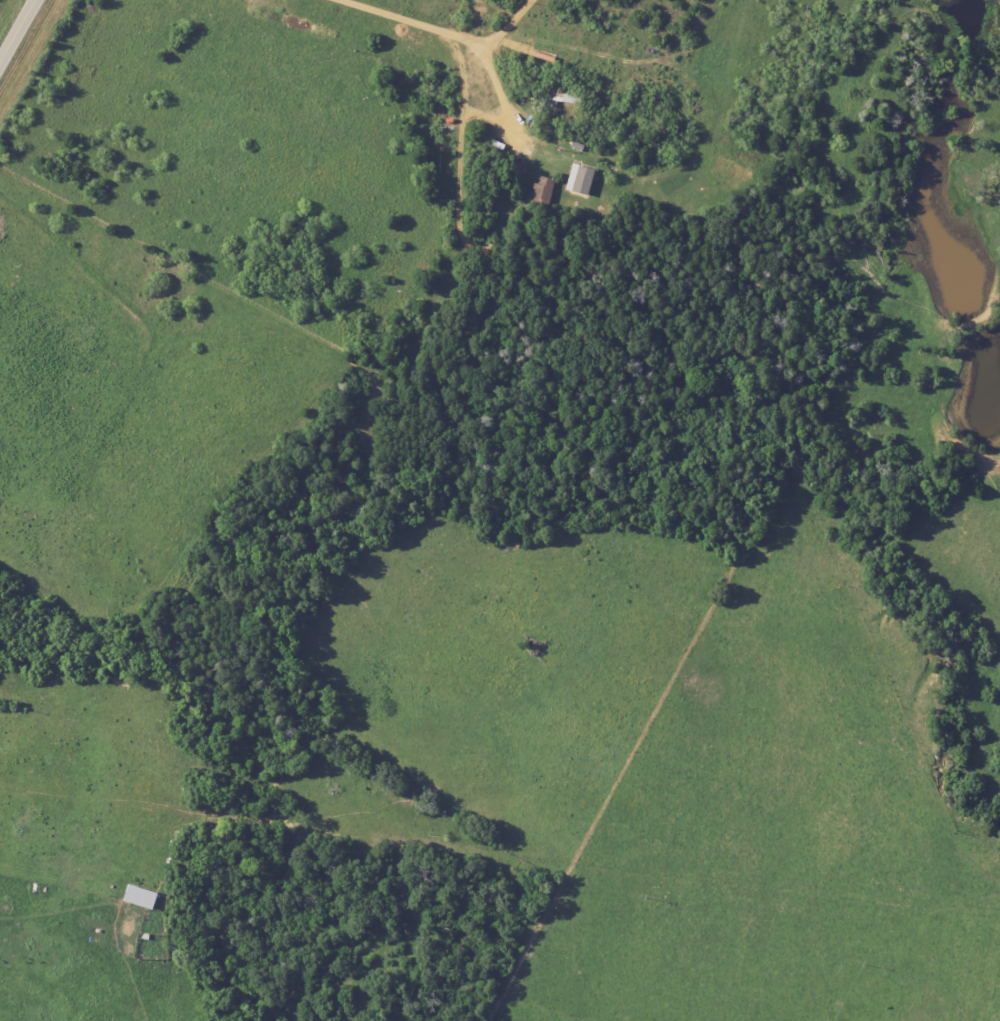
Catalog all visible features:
road: (506, 23)
road: (17, 31)
road: (464, 36)
building: (565, 98)
building: (582, 179)
building: (543, 191)
building: (136, 896)

